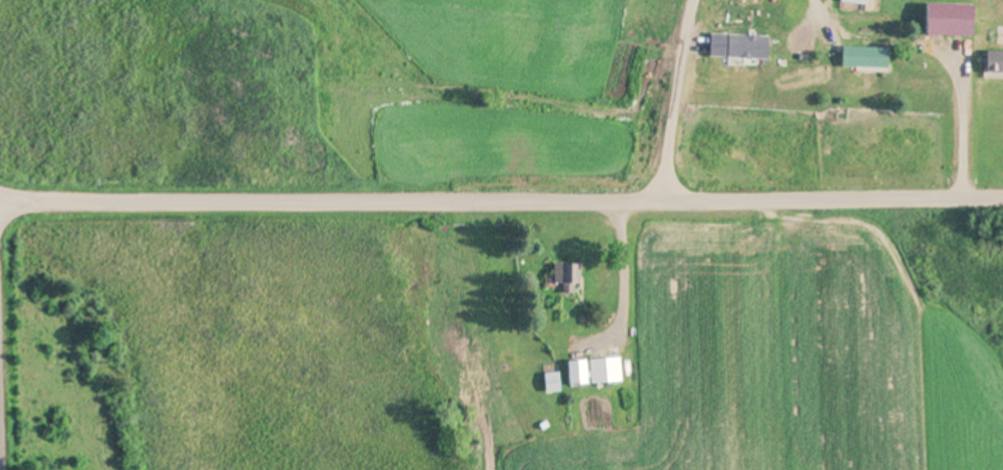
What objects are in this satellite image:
building: (857, 1)
building: (725, 12)
building: (953, 21)
building: (867, 58)
building: (996, 63)
road: (501, 221)
building: (568, 275)
building: (607, 370)
building: (580, 372)
building: (554, 382)
road: (12, 401)

